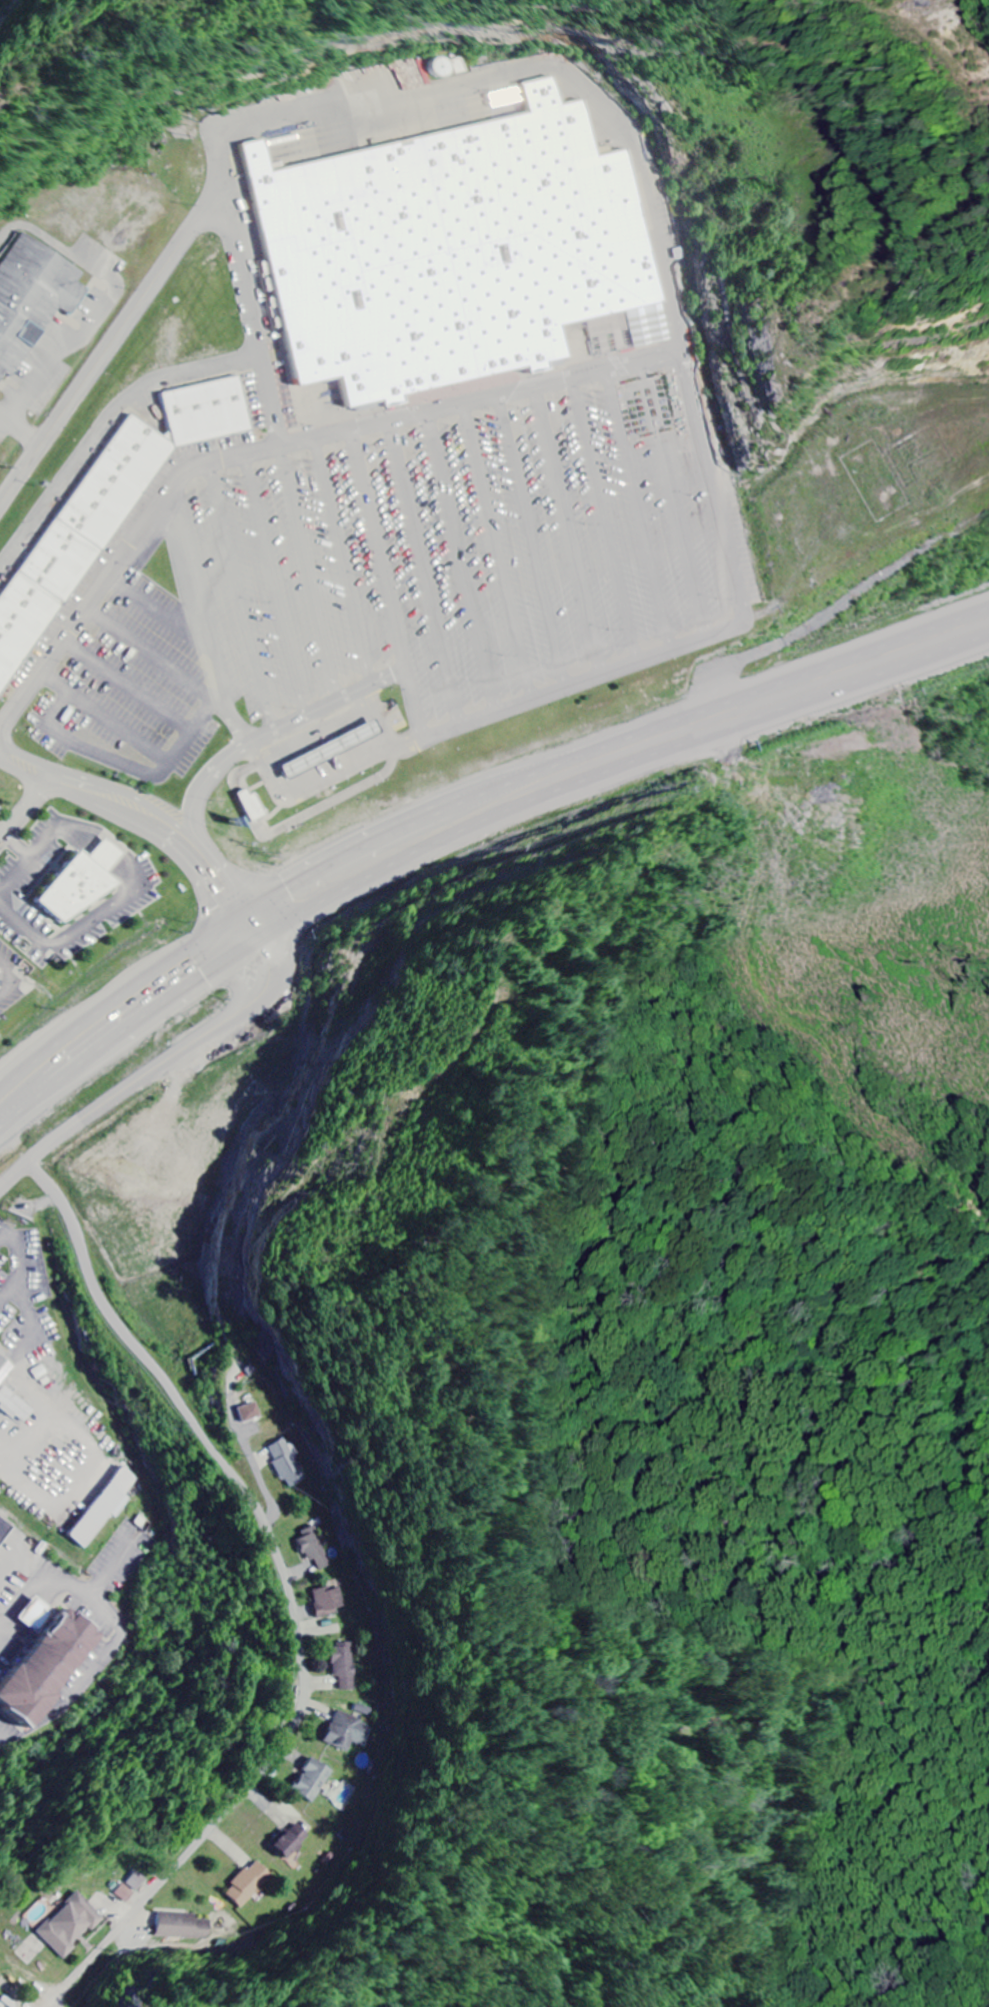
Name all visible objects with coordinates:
road: (651, 202)
road: (41, 230)
building: (451, 251)
building: (31, 297)
road: (80, 334)
road: (109, 346)
building: (205, 410)
road: (105, 424)
road: (20, 428)
road: (276, 445)
road: (674, 499)
road: (639, 509)
road: (606, 518)
road: (568, 530)
building: (76, 537)
road: (533, 540)
road: (380, 549)
road: (499, 551)
road: (343, 560)
road: (463, 561)
road: (310, 573)
road: (424, 573)
road: (276, 585)
road: (243, 597)
road: (156, 607)
road: (204, 618)
road: (153, 657)
road: (128, 687)
road: (327, 707)
road: (105, 716)
road: (132, 765)
road: (208, 791)
road: (468, 797)
building: (253, 806)
road: (24, 812)
road: (137, 813)
road: (466, 831)
road: (2, 836)
road: (44, 846)
road: (17, 848)
road: (107, 852)
building: (77, 883)
traffic signals: (238, 917)
road: (84, 926)
road: (245, 931)
traffic signals: (253, 946)
road: (148, 1074)
building: (5, 1369)
building: (16, 1406)
building: (250, 1412)
building: (289, 1463)
building: (107, 1506)
building: (5, 1529)
building: (315, 1548)
road: (288, 1591)
building: (331, 1601)
building: (39, 1614)
building: (52, 1666)
building: (344, 1666)
building: (344, 1730)
building: (314, 1780)
building: (294, 1841)
building: (137, 1881)
building: (251, 1884)
building: (72, 1925)

